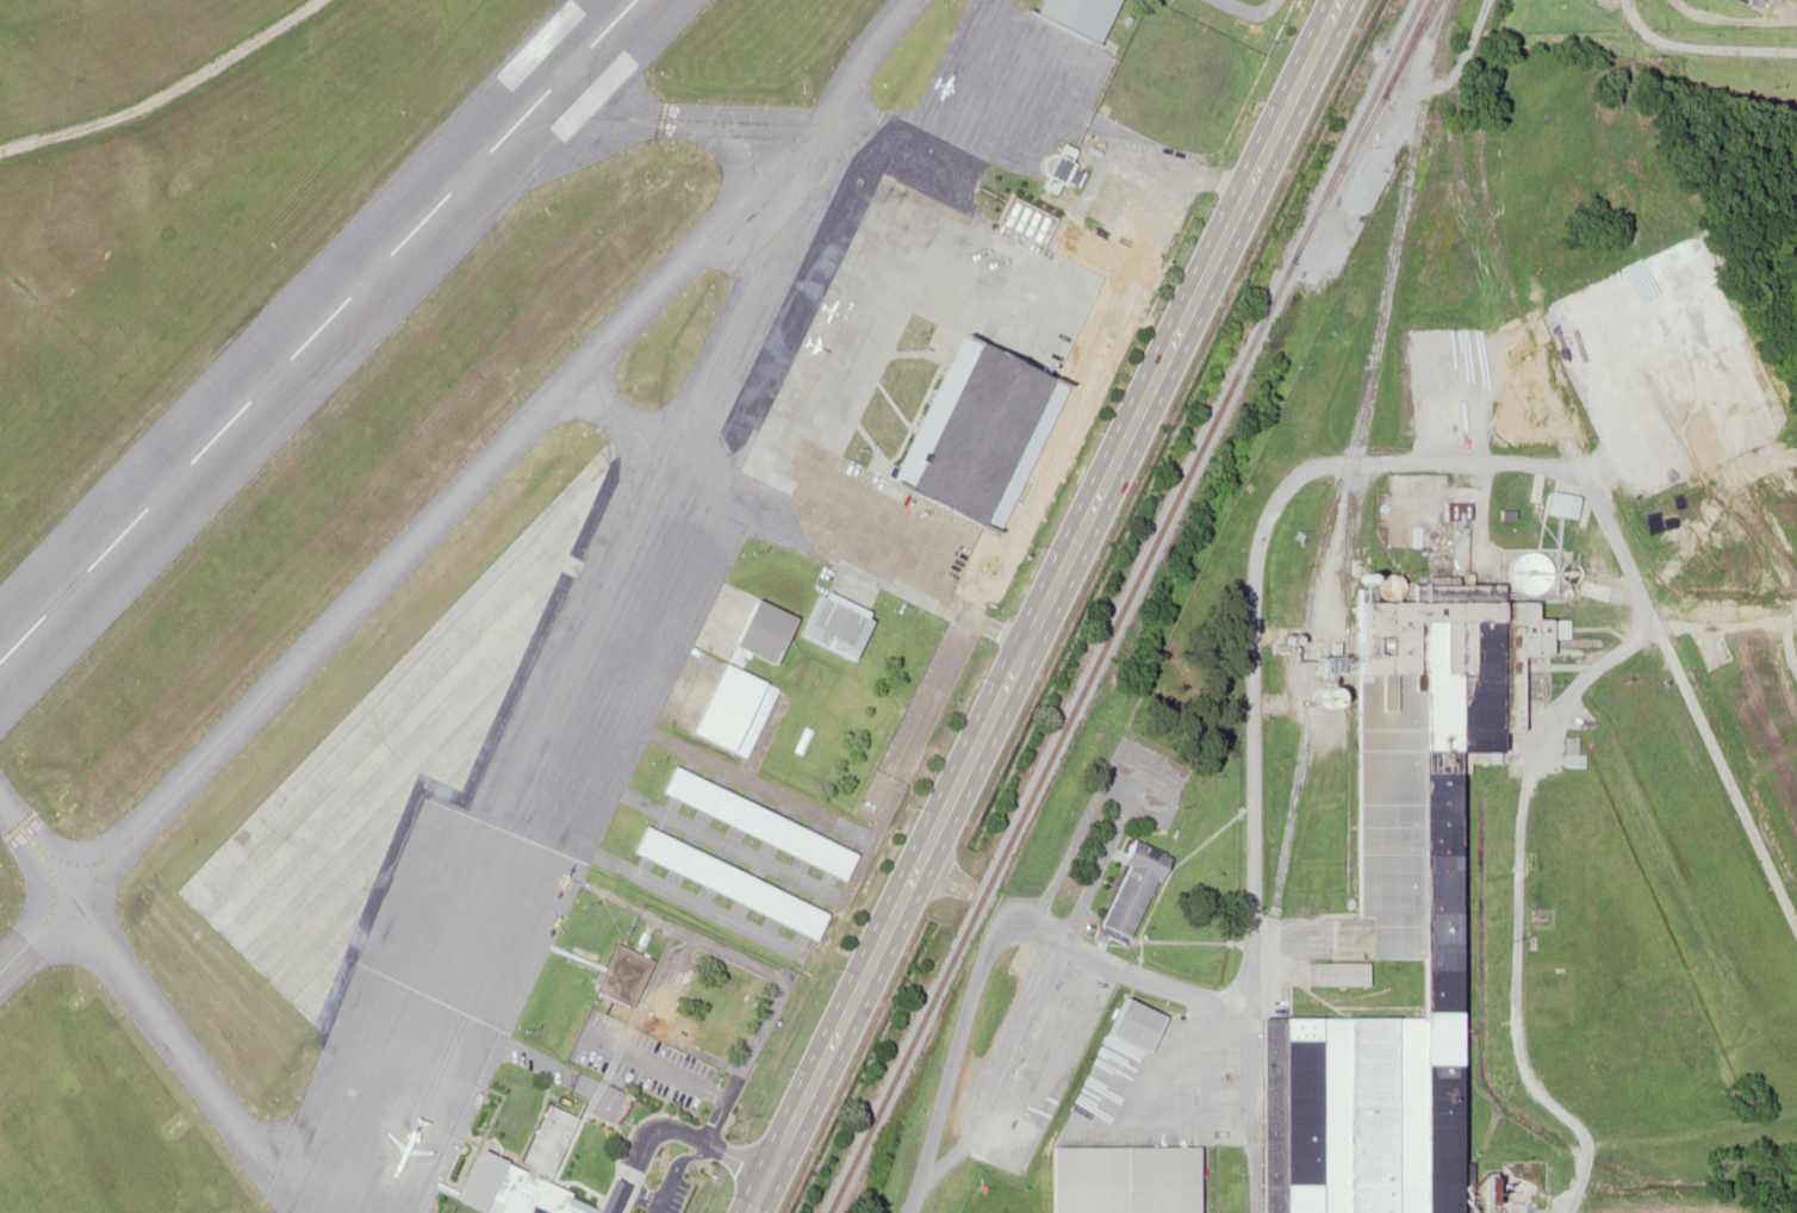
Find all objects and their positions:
wastewater plant: (1654, 13)
airport hangar: (1076, 17)
building: (1076, 17)
railway: (1406, 46)
airport taxiway: (841, 93)
airport taxiway: (661, 122)
railway: (1353, 130)
railway: (1364, 130)
building: (1057, 163)
road: (1182, 164)
railway: (1457, 173)
building: (1105, 253)
airport runway: (313, 328)
airport hangar: (982, 433)
building: (982, 433)
railway: (1358, 447)
building: (1453, 510)
airport taxiway: (410, 543)
airport: (515, 546)
road: (1043, 605)
airport hangar: (835, 624)
building: (835, 624)
road: (990, 627)
airport hangar: (765, 629)
building: (765, 629)
airport hangar: (735, 710)
building: (735, 710)
railway: (1059, 736)
airport hangar: (759, 823)
building: (759, 823)
building: (1423, 825)
airport hangar: (729, 882)
building: (729, 882)
building: (1128, 887)
airport taxiway: (452, 903)
building: (1338, 973)
building: (618, 975)
road: (771, 1006)
road: (658, 1018)
building: (1126, 1022)
parking lot: (655, 1046)
road: (658, 1068)
building: (1318, 1118)
road: (670, 1127)
road: (678, 1159)
building: (1119, 1178)
airport terminal: (530, 1180)
building: (530, 1180)
road: (641, 1193)
parking lot: (659, 1193)
road: (653, 1206)

